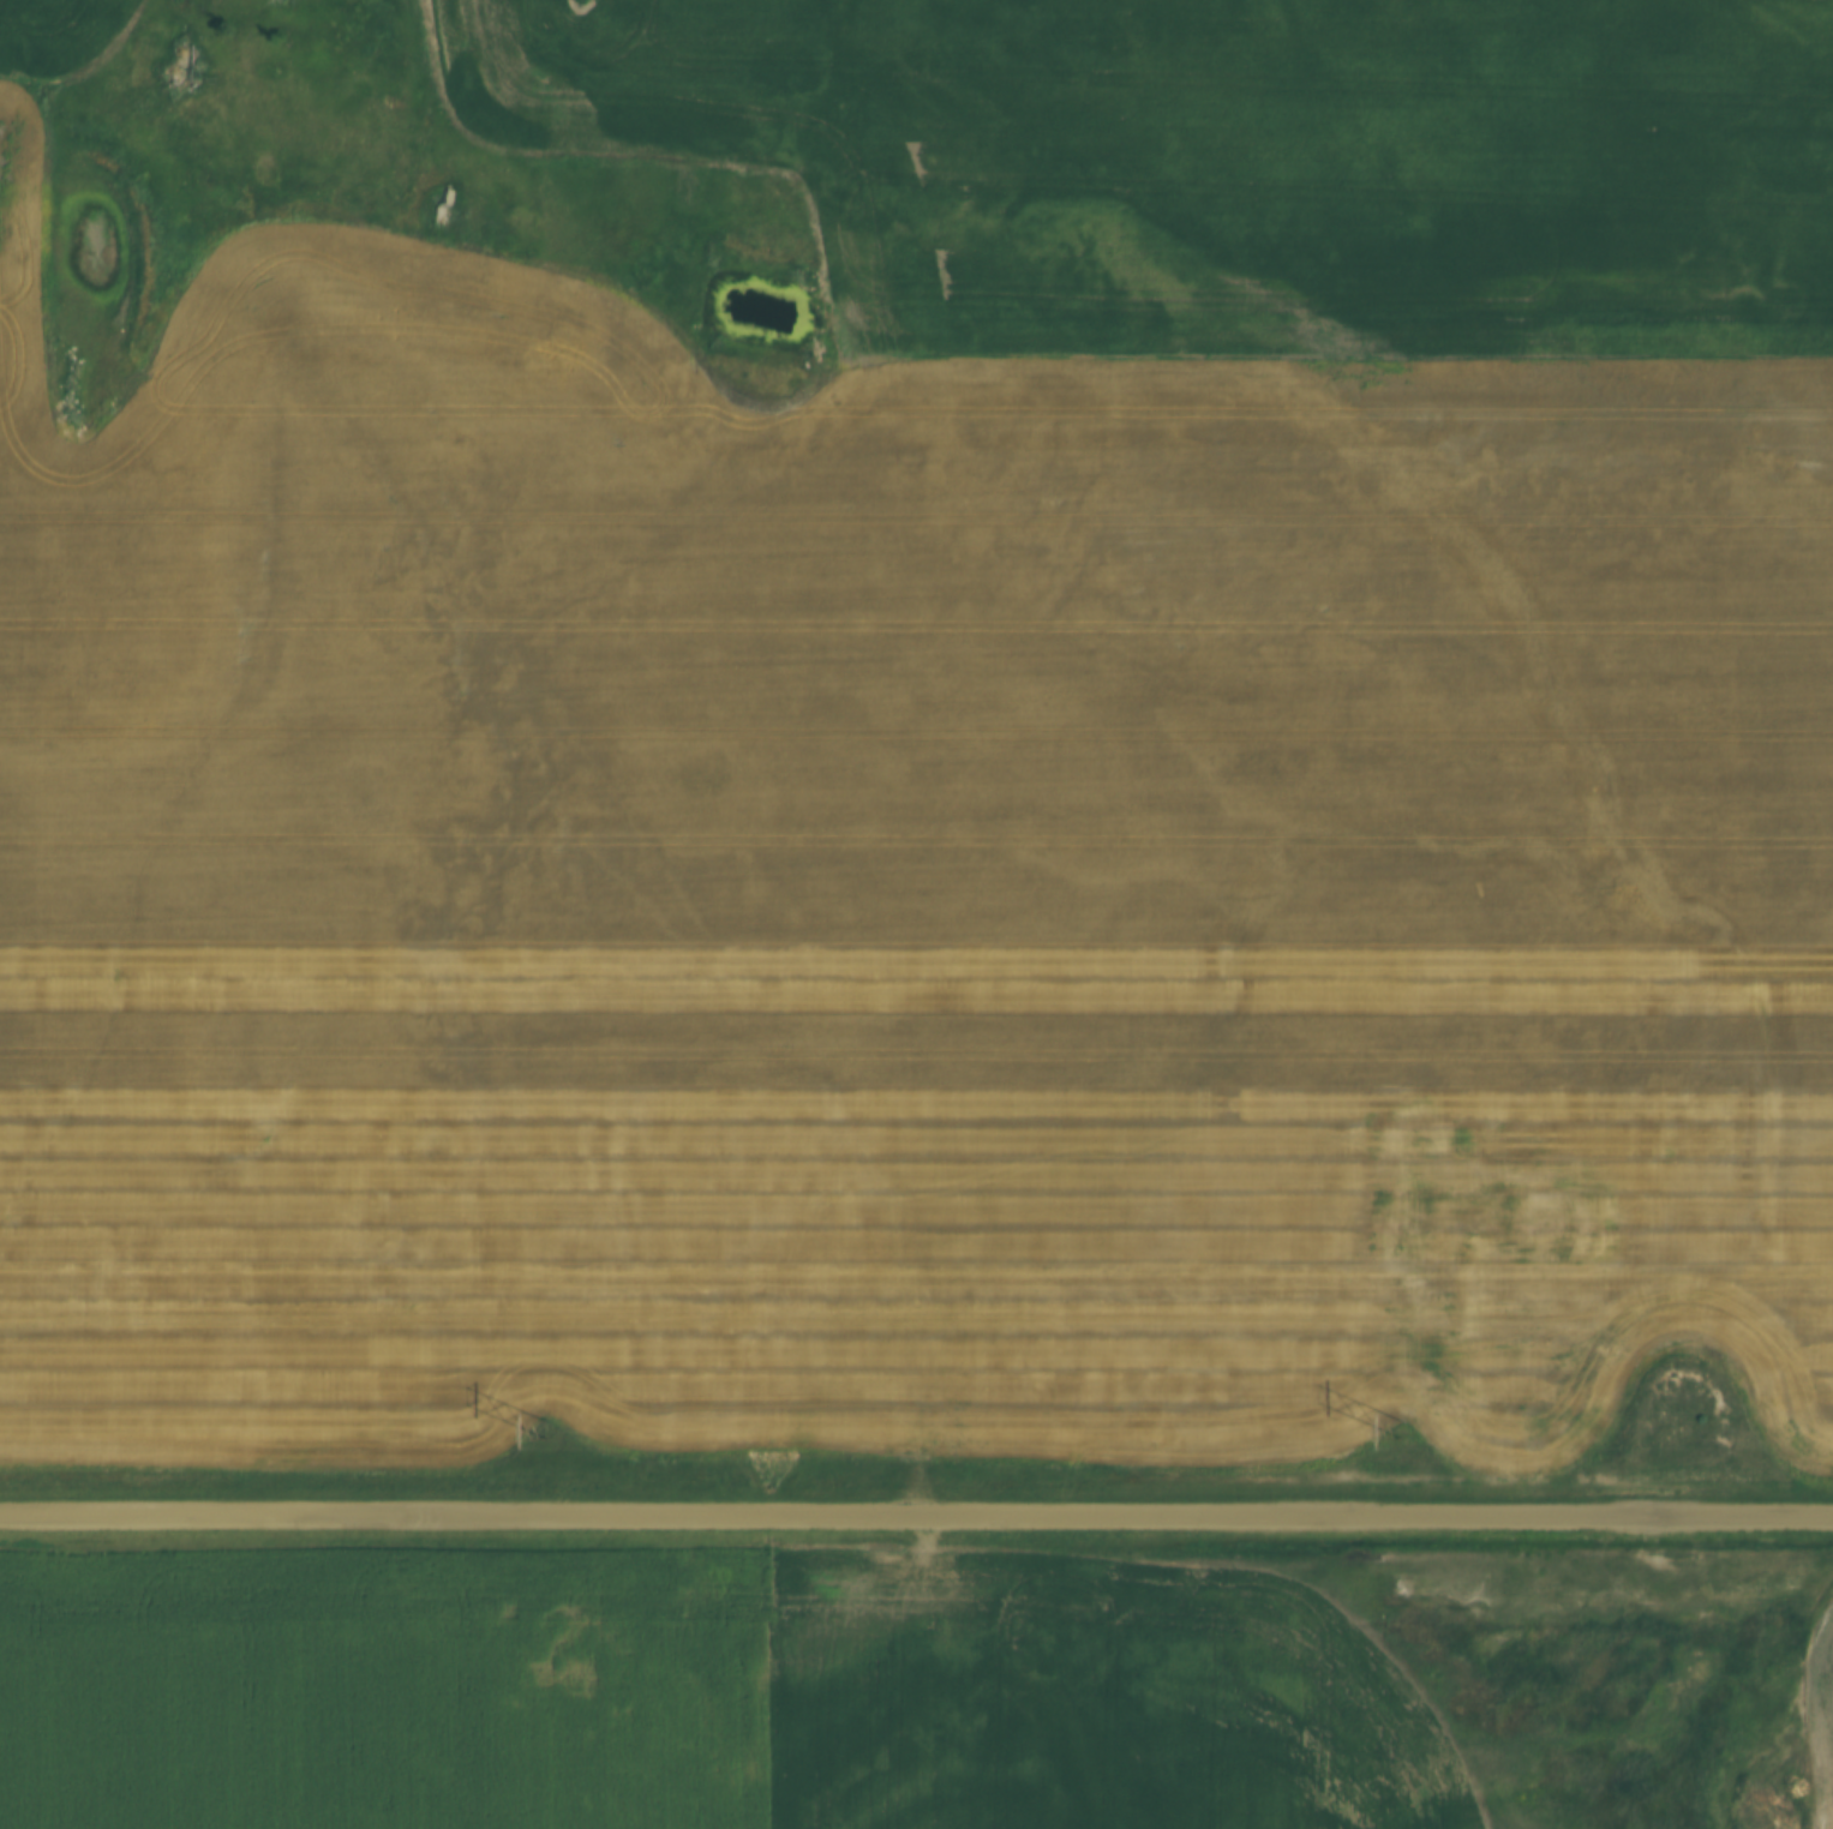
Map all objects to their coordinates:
road: (670, 88)
building: (438, 209)
power tower: (1379, 1432)
power tower: (522, 1435)
road: (916, 1513)

